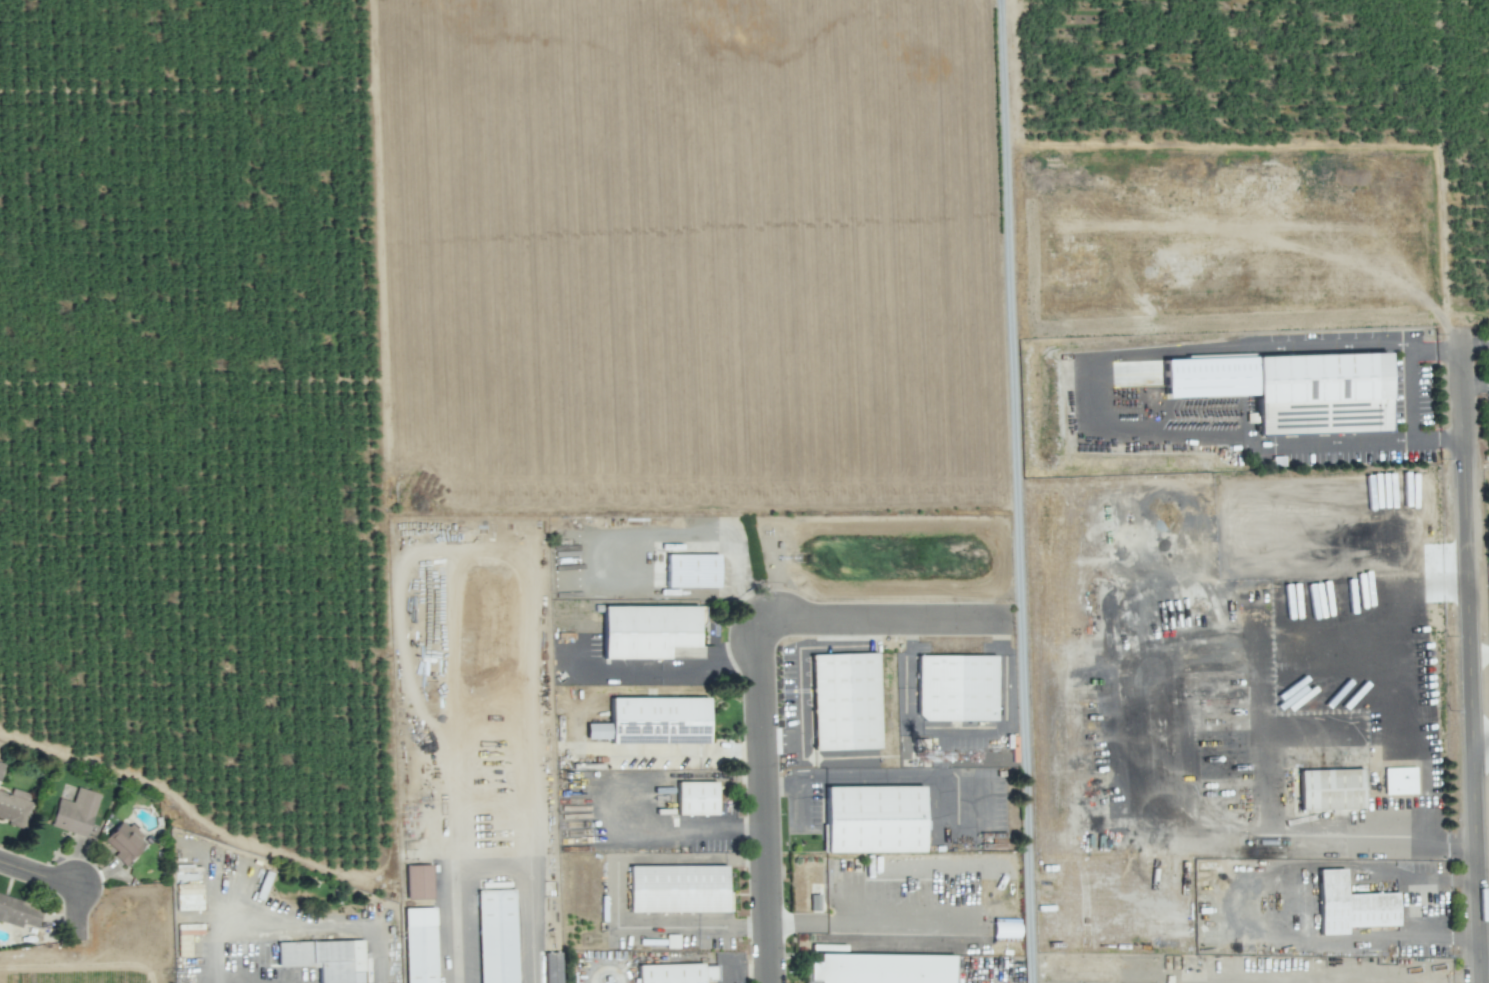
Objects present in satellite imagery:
road: (1010, 310)
road: (1475, 345)
road: (1305, 346)
road: (1476, 386)
building: (1292, 389)
road: (1408, 398)
road: (1236, 430)
road: (1438, 446)
building: (693, 573)
road: (939, 622)
building: (648, 633)
road: (1480, 653)
road: (1473, 656)
road: (676, 671)
building: (958, 690)
building: (846, 705)
building: (660, 722)
road: (1482, 744)
road: (765, 756)
building: (1, 768)
building: (1399, 780)
building: (1330, 789)
building: (697, 801)
road: (1024, 802)
building: (15, 806)
building: (75, 812)
building: (875, 821)
road: (1393, 839)
building: (124, 842)
road: (14, 867)
road: (492, 872)
building: (420, 884)
road: (73, 891)
building: (678, 892)
building: (1350, 905)
building: (18, 912)
building: (1005, 928)
building: (498, 937)
building: (421, 946)
building: (325, 959)
building: (552, 967)
building: (884, 970)
building: (678, 975)

